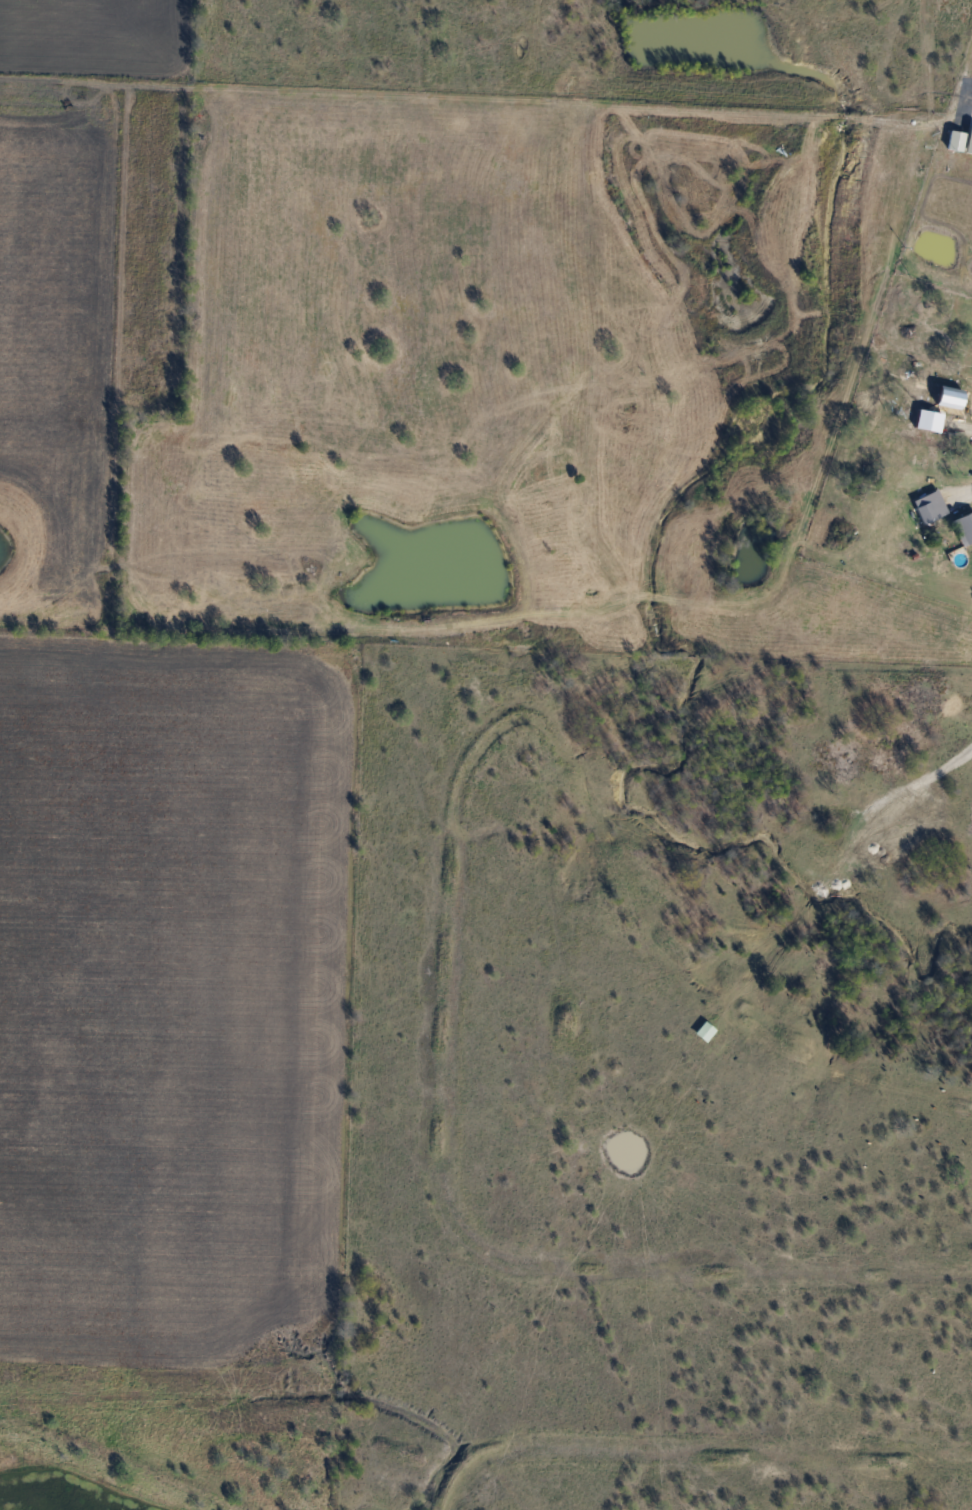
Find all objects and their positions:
building: (954, 141)
building: (925, 513)
building: (965, 527)
building: (704, 1031)

